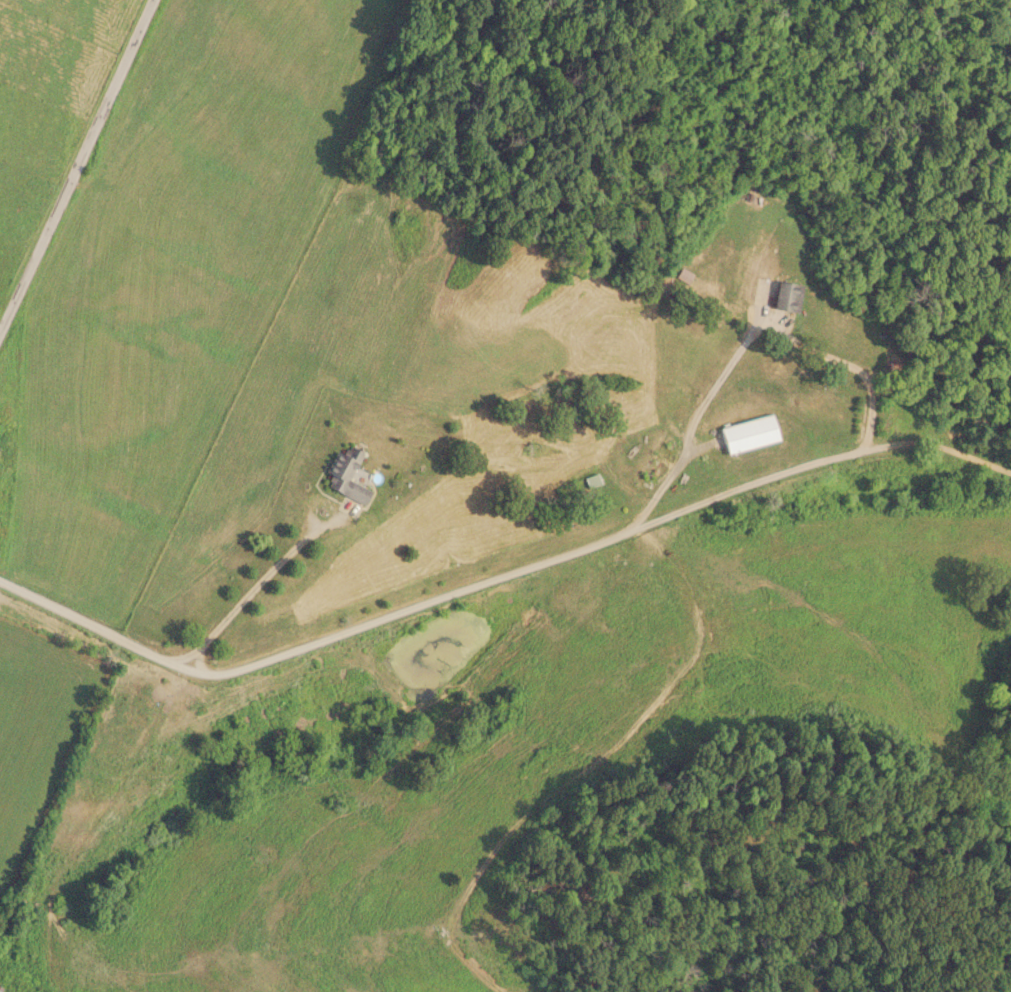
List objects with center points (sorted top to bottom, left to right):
road: (72, 159)
building: (784, 297)
building: (746, 434)
building: (345, 474)
building: (588, 482)
road: (500, 577)

